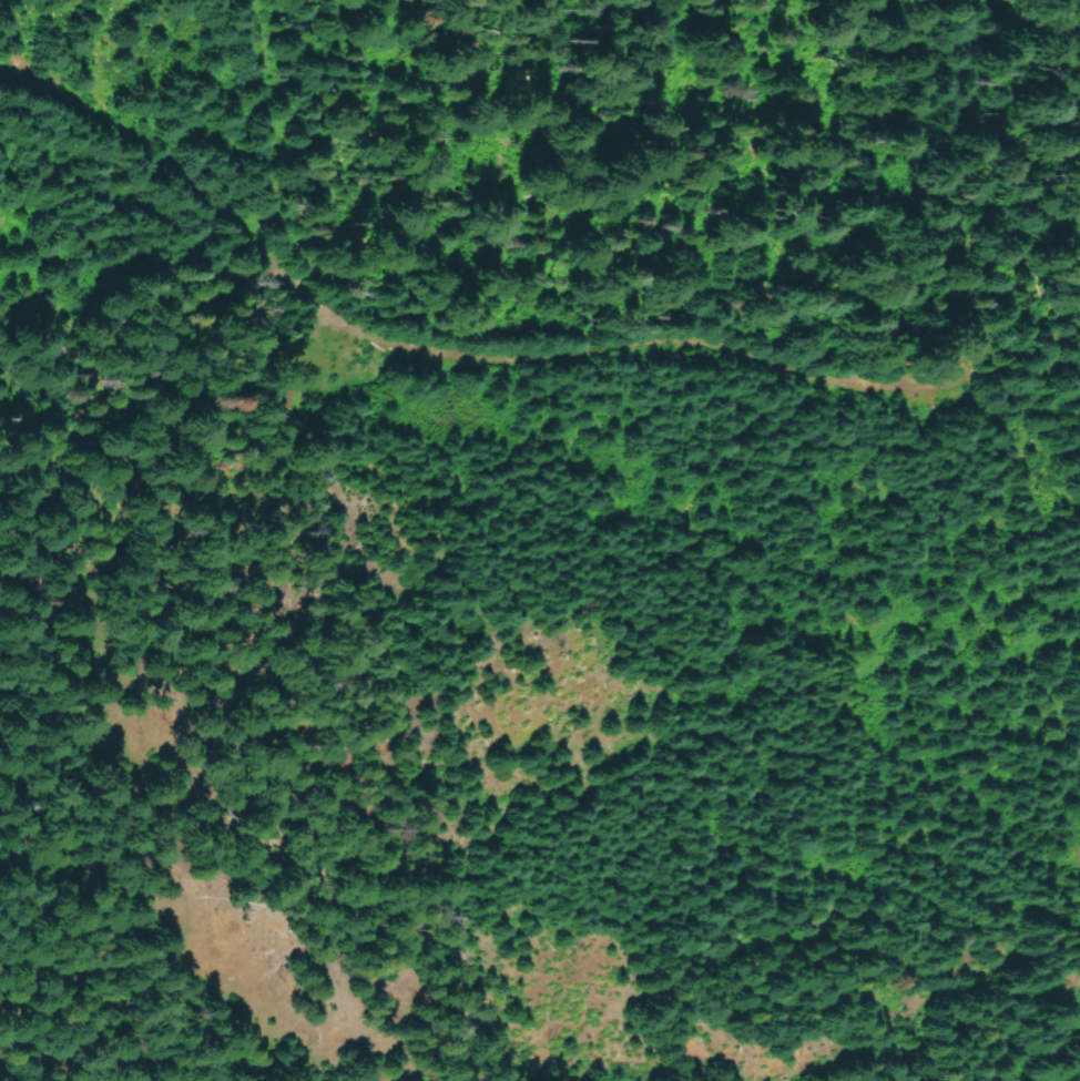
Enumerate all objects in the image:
road: (563, 350)

